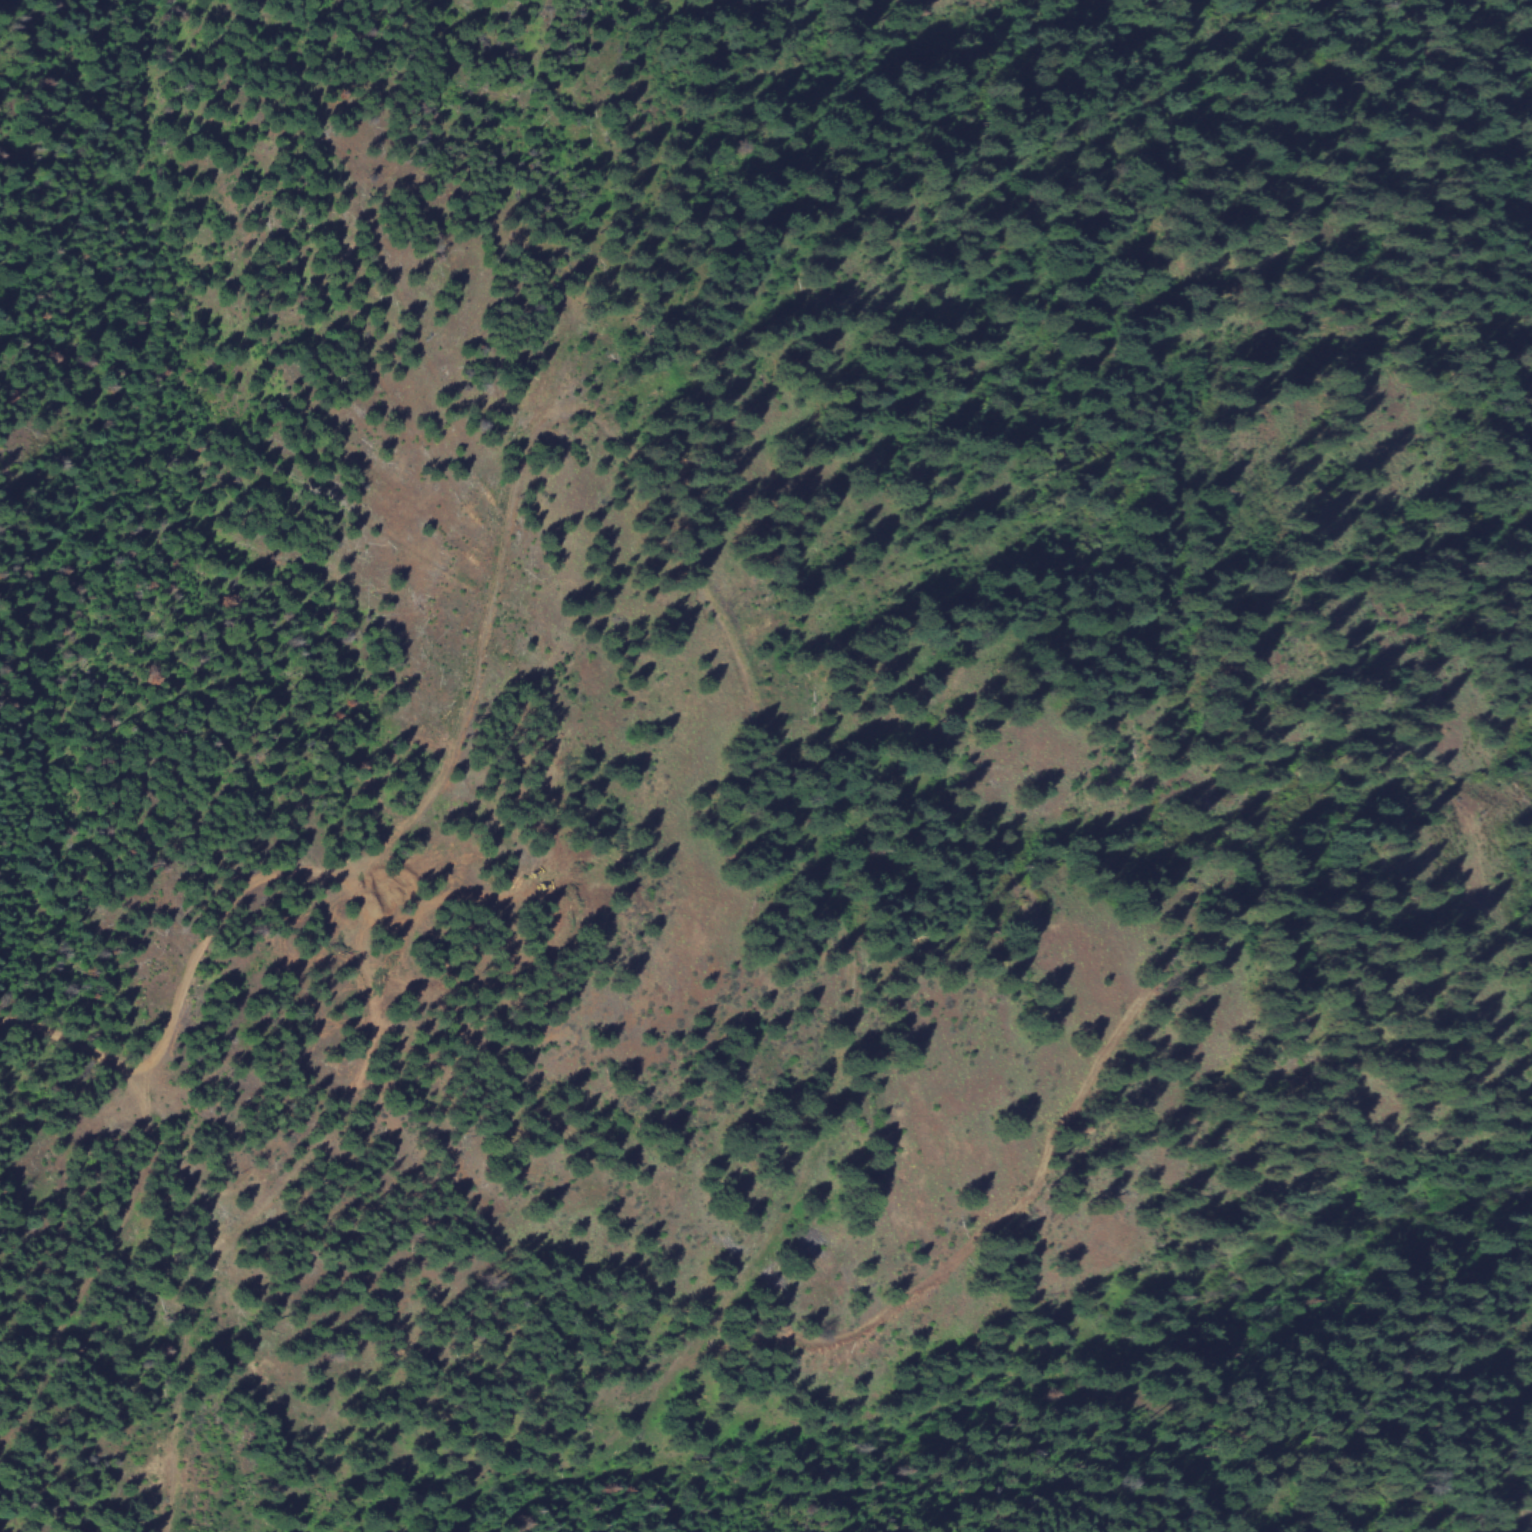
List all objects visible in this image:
road: (650, 541)

